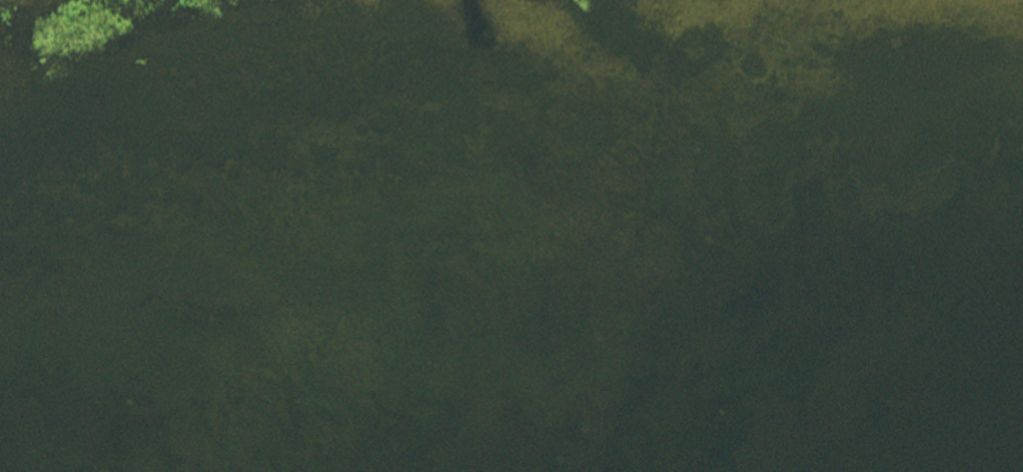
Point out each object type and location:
crop: (1014, 2)
crop: (53, 9)

